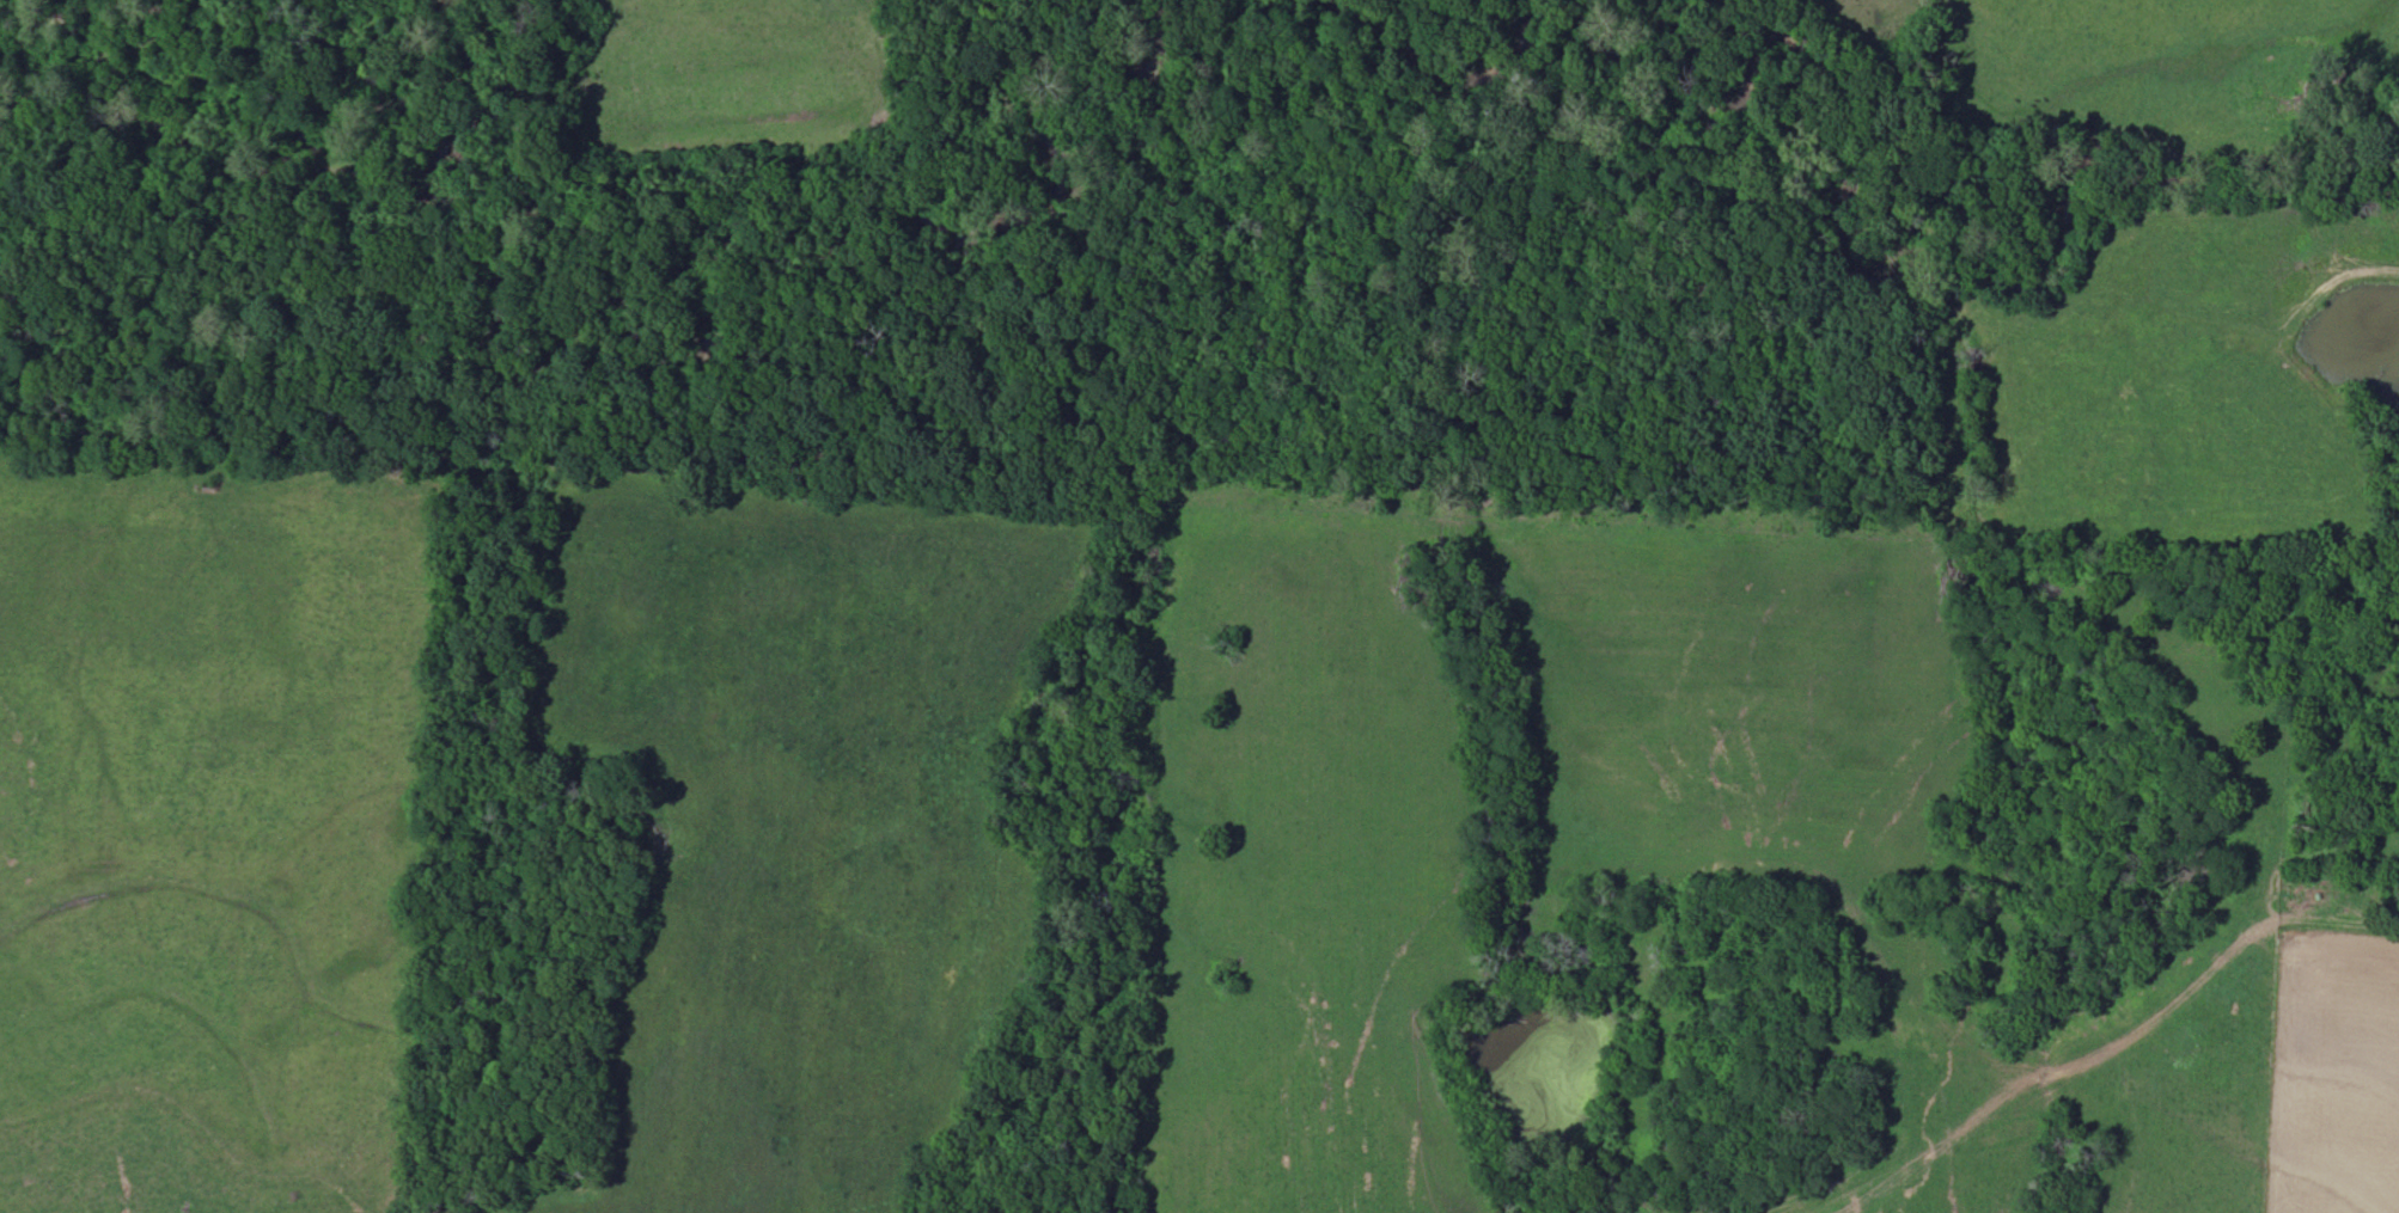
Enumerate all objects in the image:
crop: (2333, 1078)

